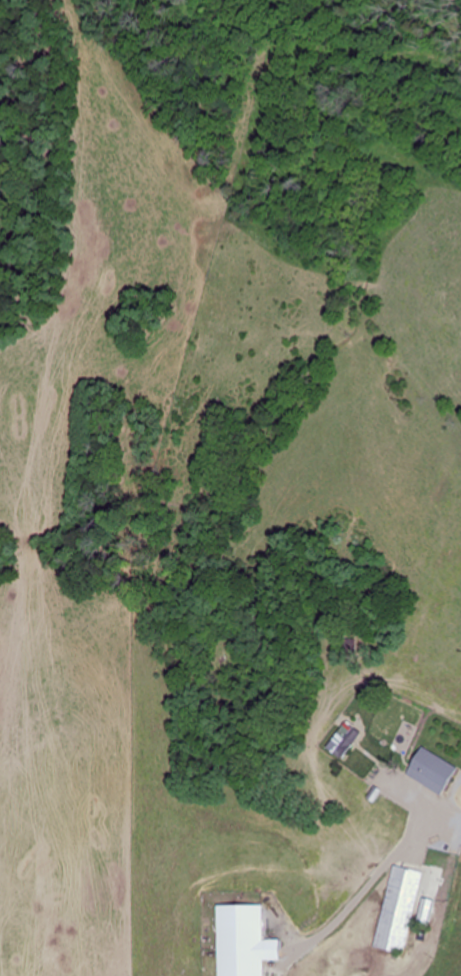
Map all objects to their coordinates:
building: (345, 741)
road: (447, 896)
building: (399, 909)
building: (427, 912)

